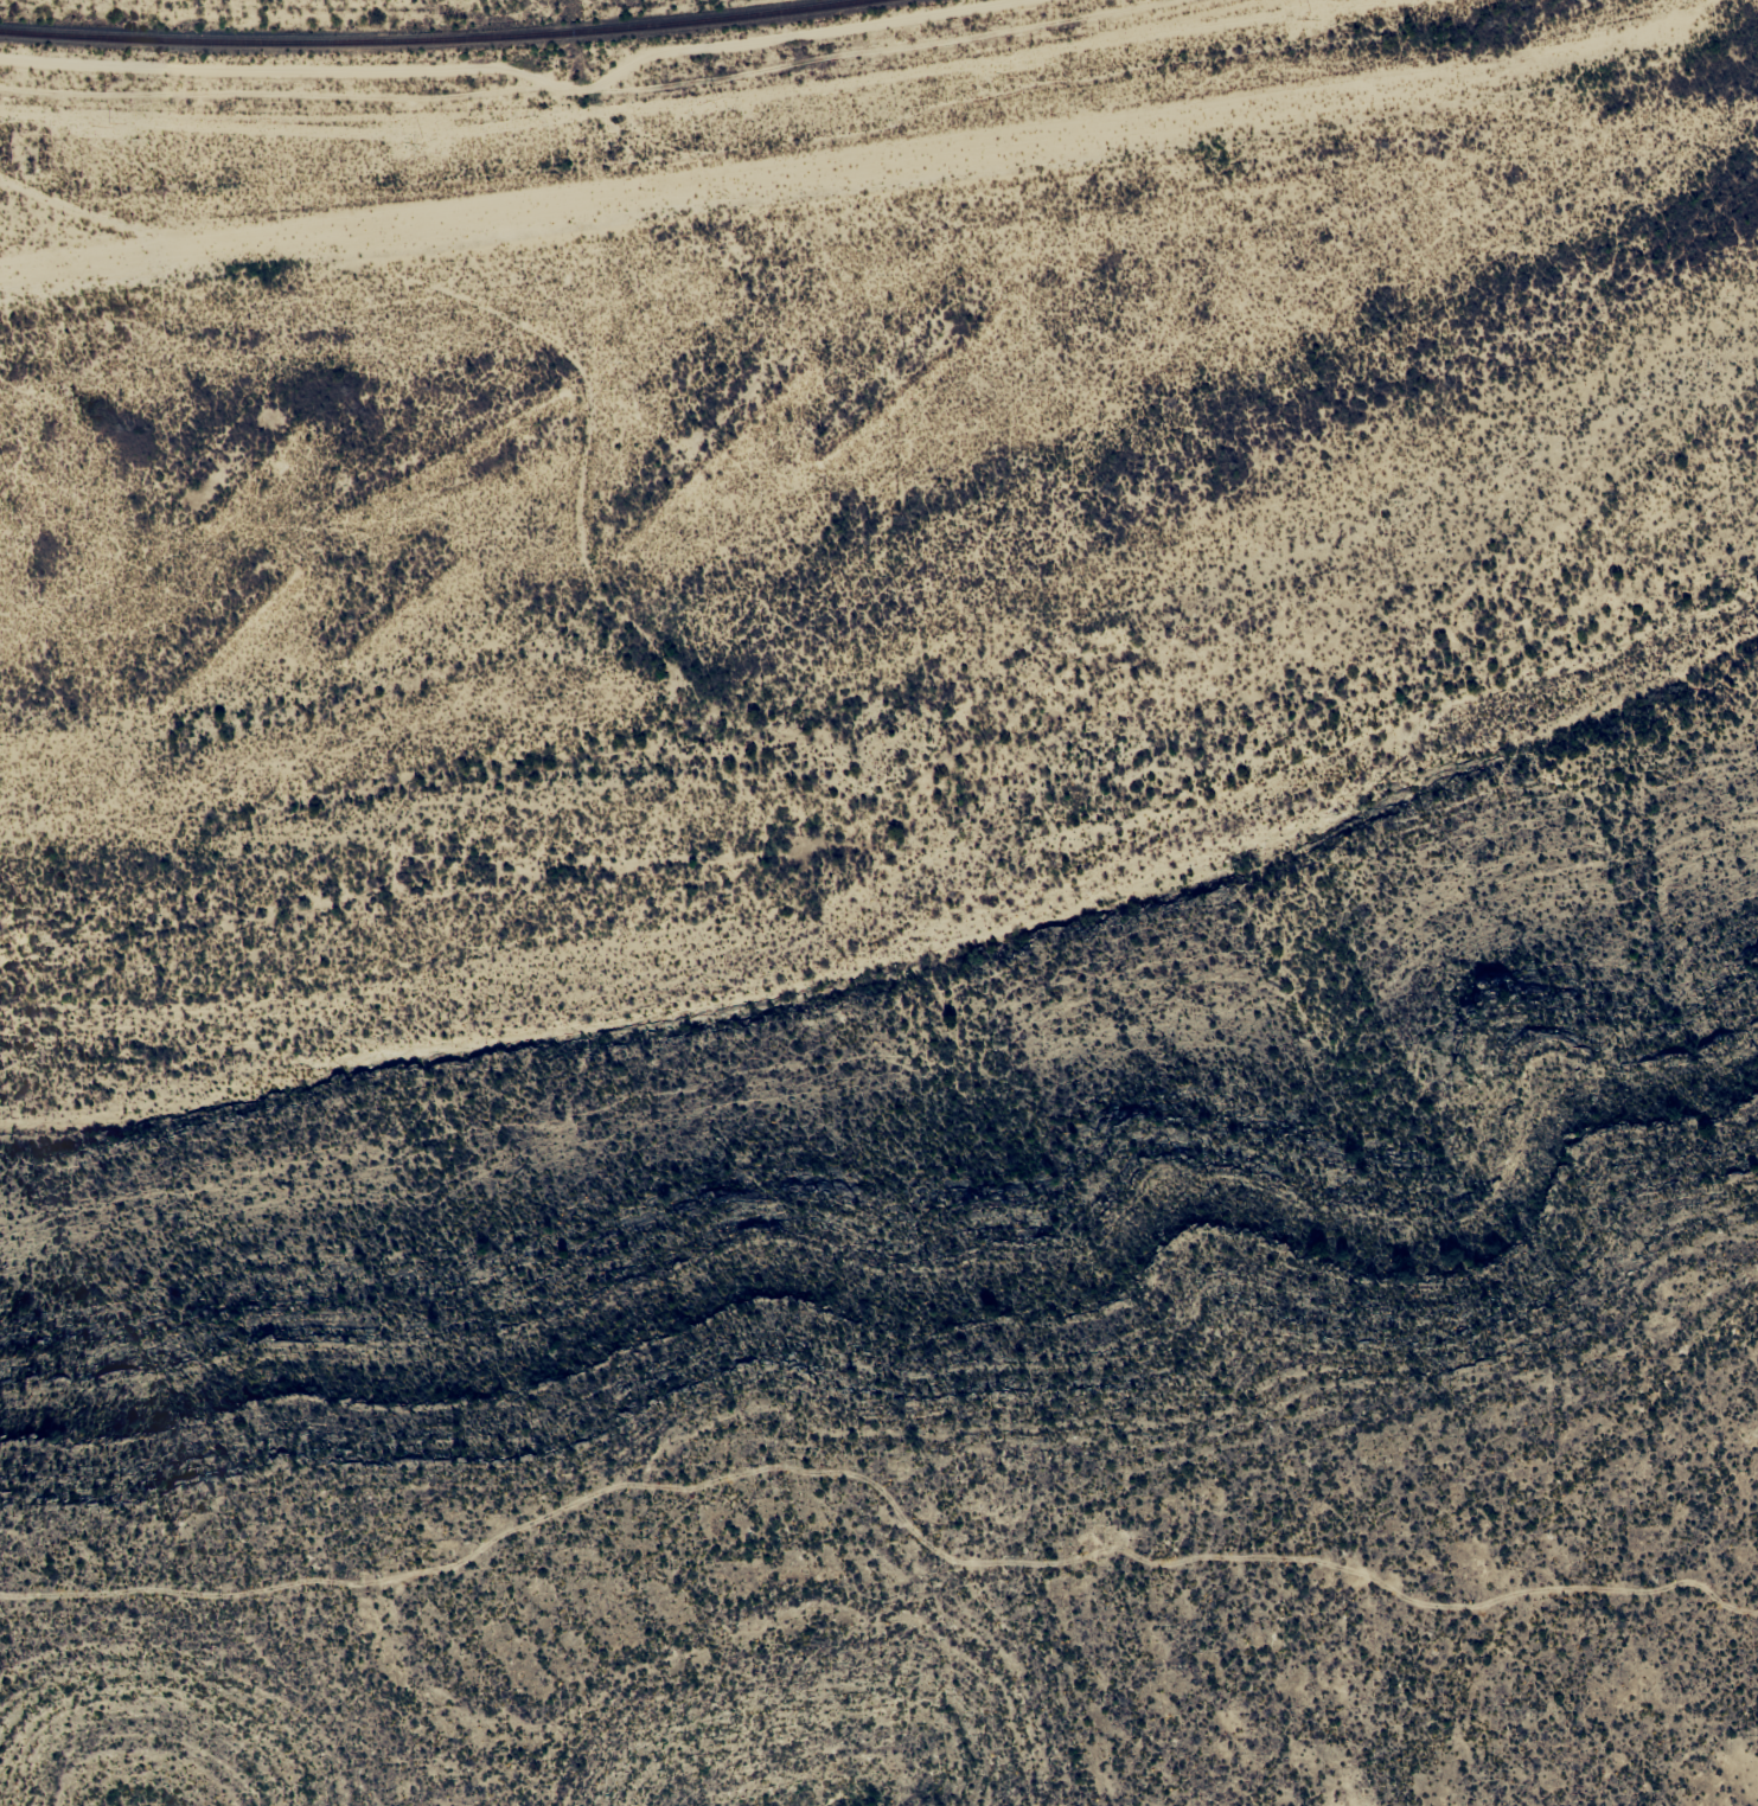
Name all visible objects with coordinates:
railway: (426, 38)
road: (97, 228)

